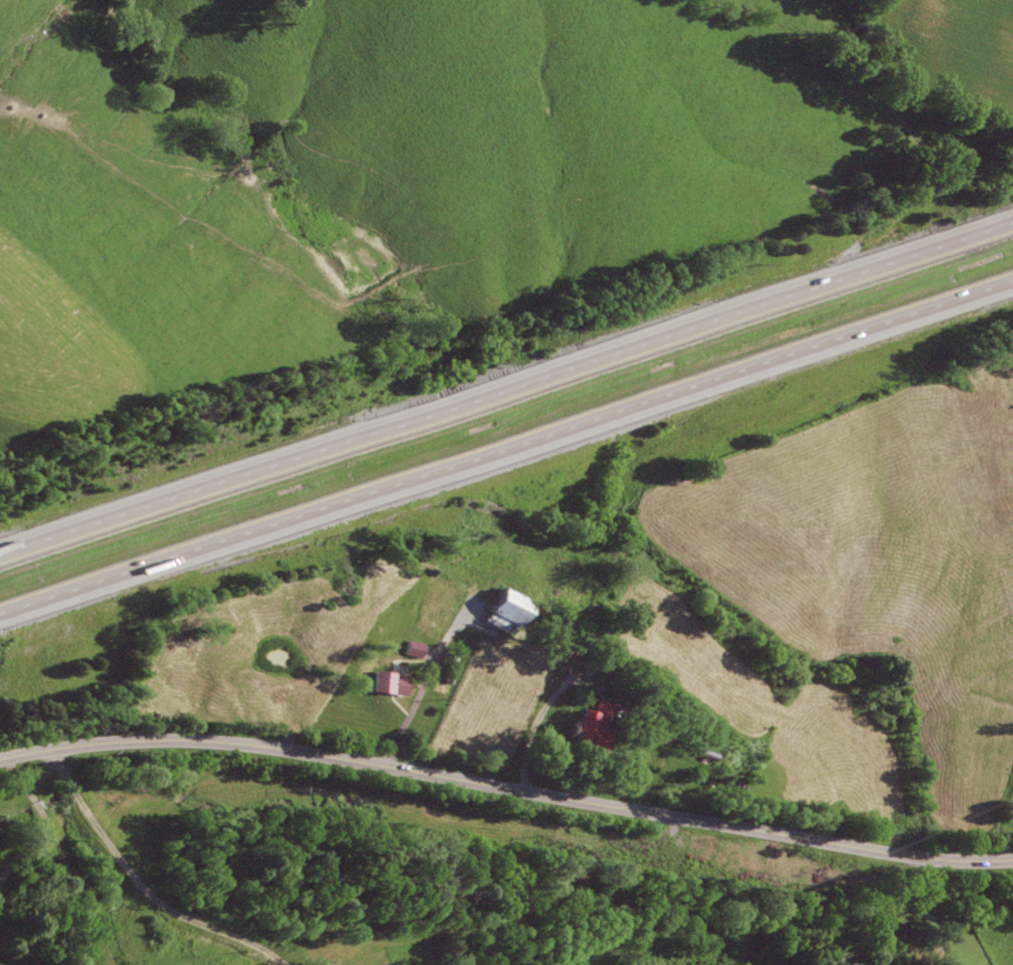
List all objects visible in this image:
road: (506, 385)
road: (506, 450)
building: (498, 610)
building: (413, 649)
building: (568, 650)
building: (386, 682)
road: (410, 706)
building: (589, 726)
road: (533, 729)
building: (700, 756)
road: (506, 788)
road: (66, 858)
road: (143, 884)
road: (924, 911)

